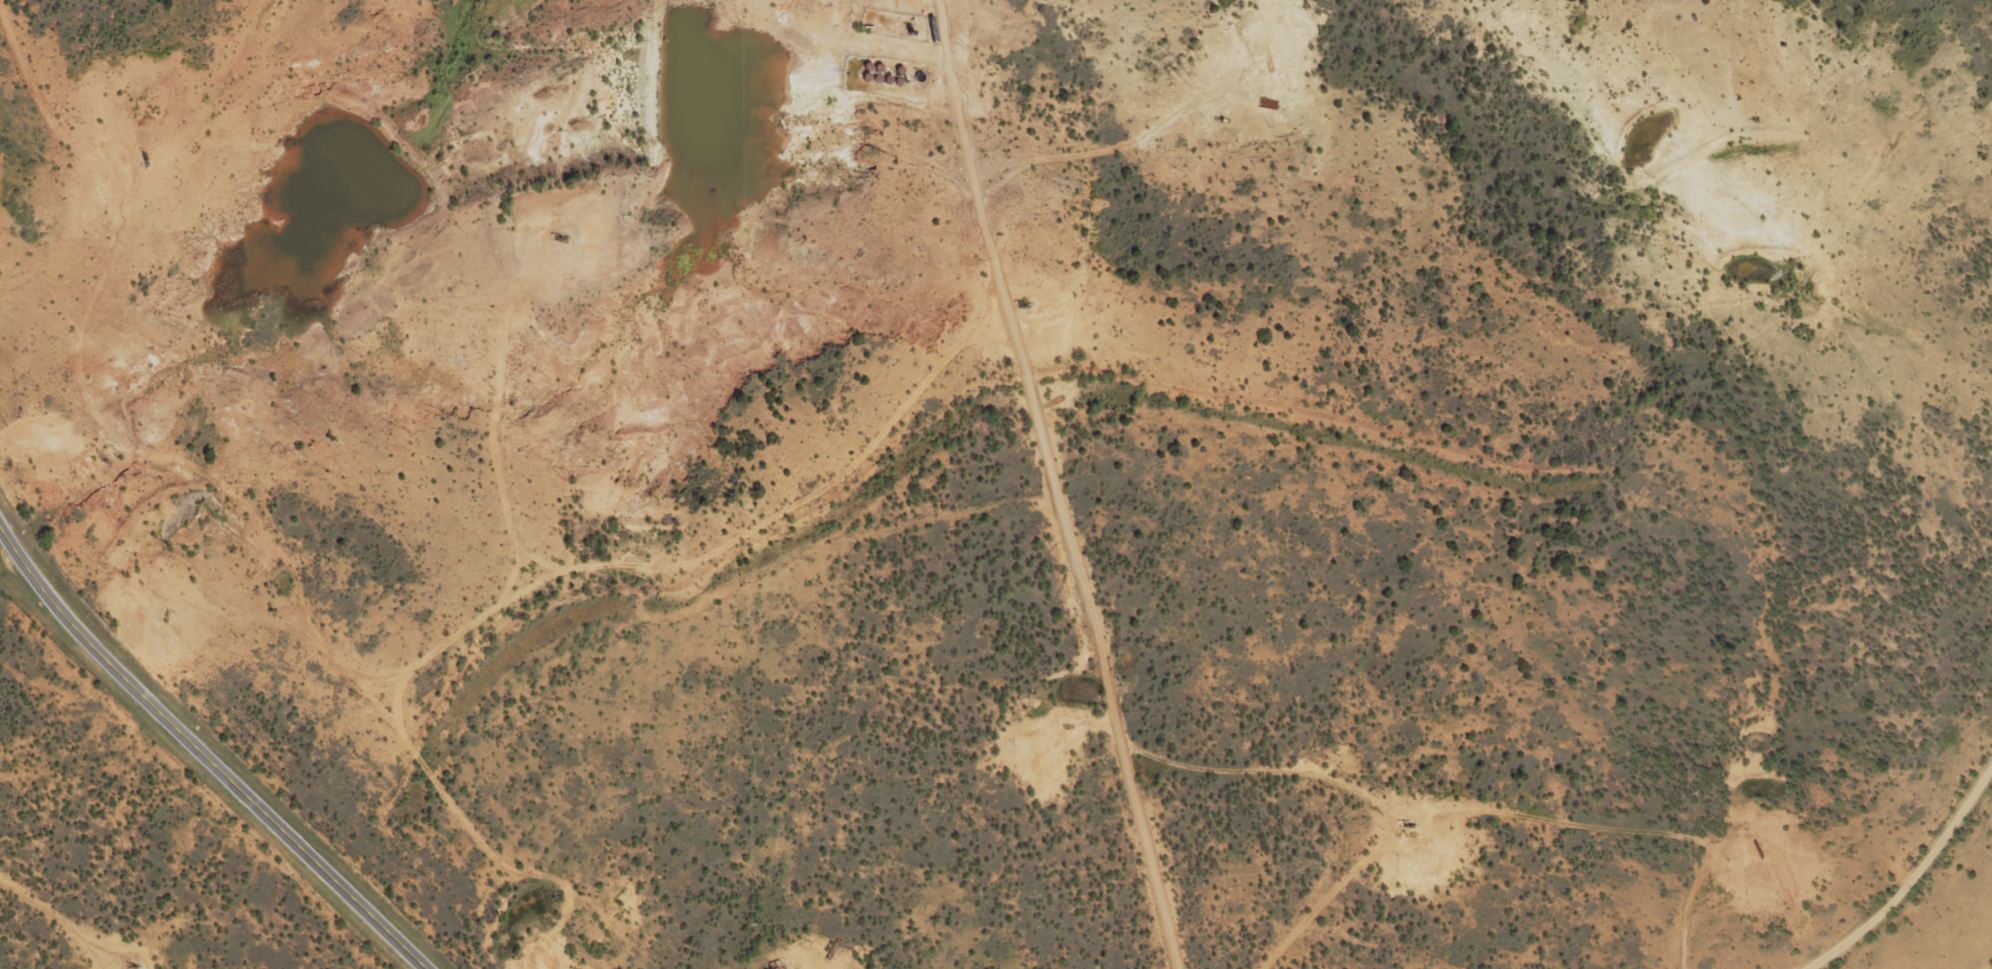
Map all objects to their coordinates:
road: (1970, 366)
road: (202, 753)
road: (127, 851)
road: (1927, 874)

